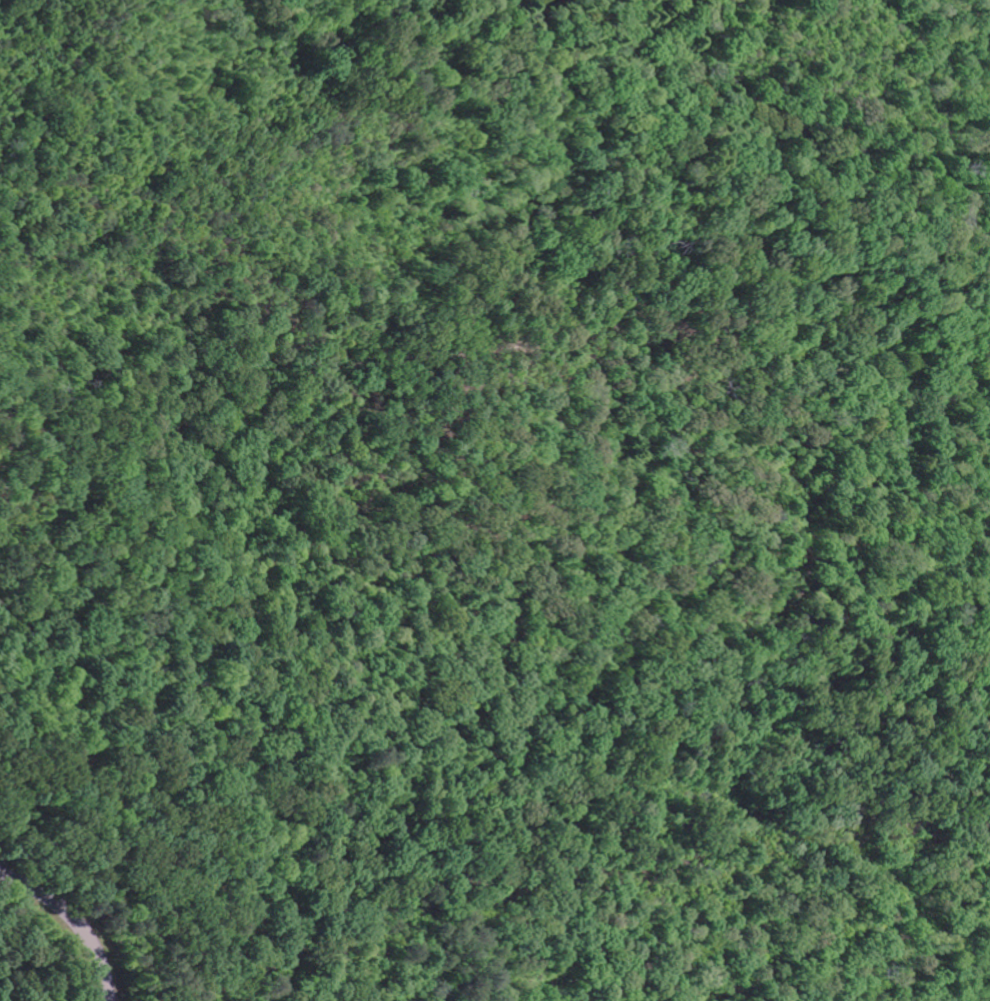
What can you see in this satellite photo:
road: (69, 925)

